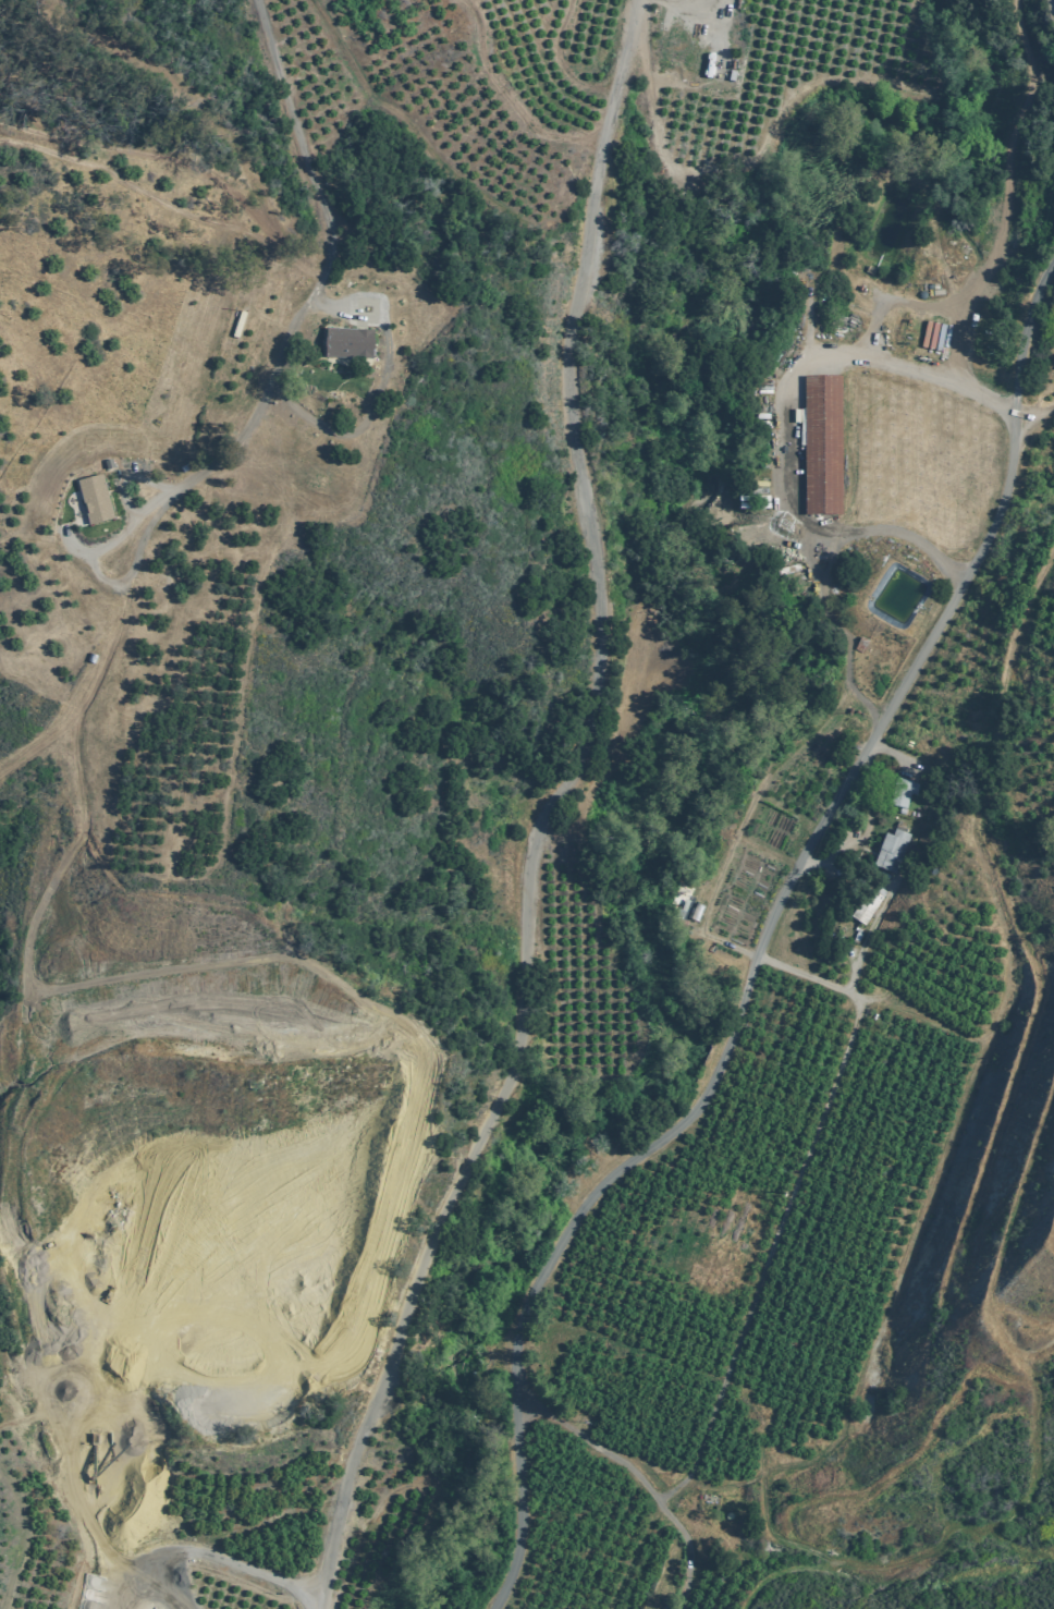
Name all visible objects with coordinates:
road: (330, 223)
building: (351, 343)
building: (317, 385)
building: (825, 444)
building: (98, 500)
road: (130, 578)
building: (903, 795)
road: (544, 813)
building: (893, 852)
building: (867, 907)
road: (762, 941)

